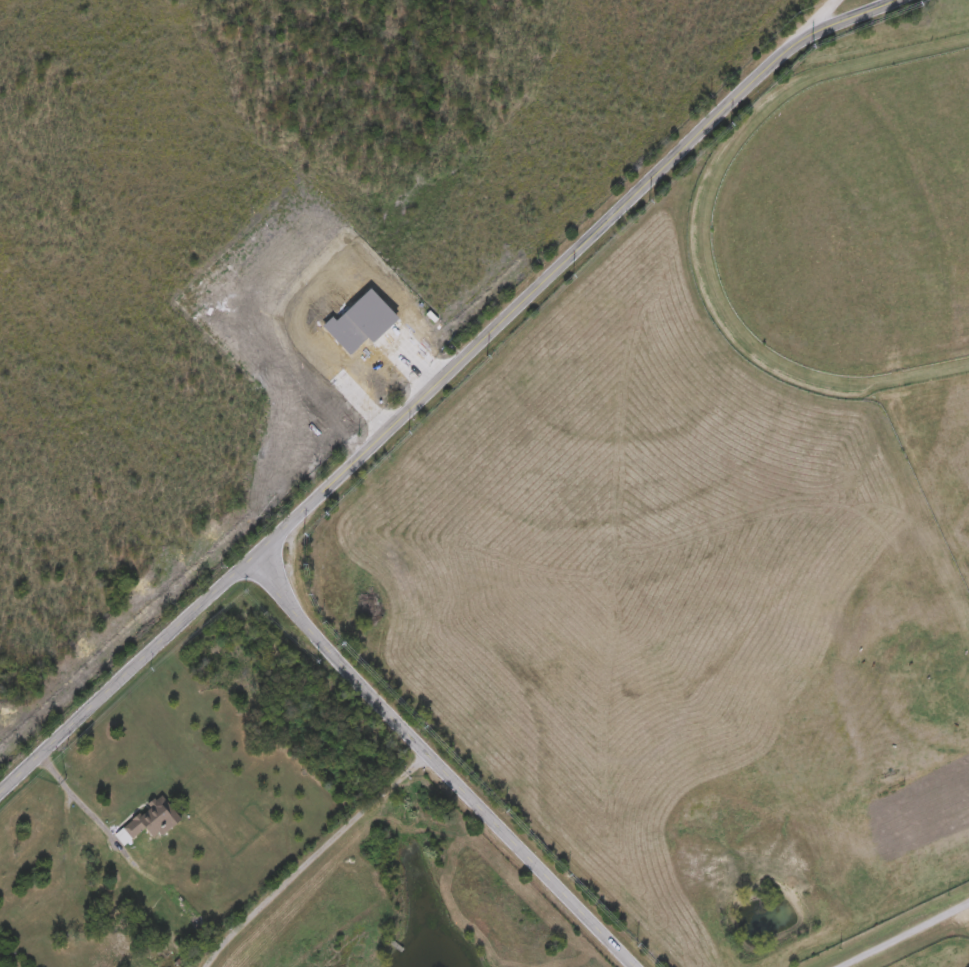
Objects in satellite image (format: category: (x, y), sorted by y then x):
road: (817, 17)
road: (437, 379)
road: (432, 766)
road: (78, 796)
building: (150, 823)
road: (309, 857)
road: (902, 935)

